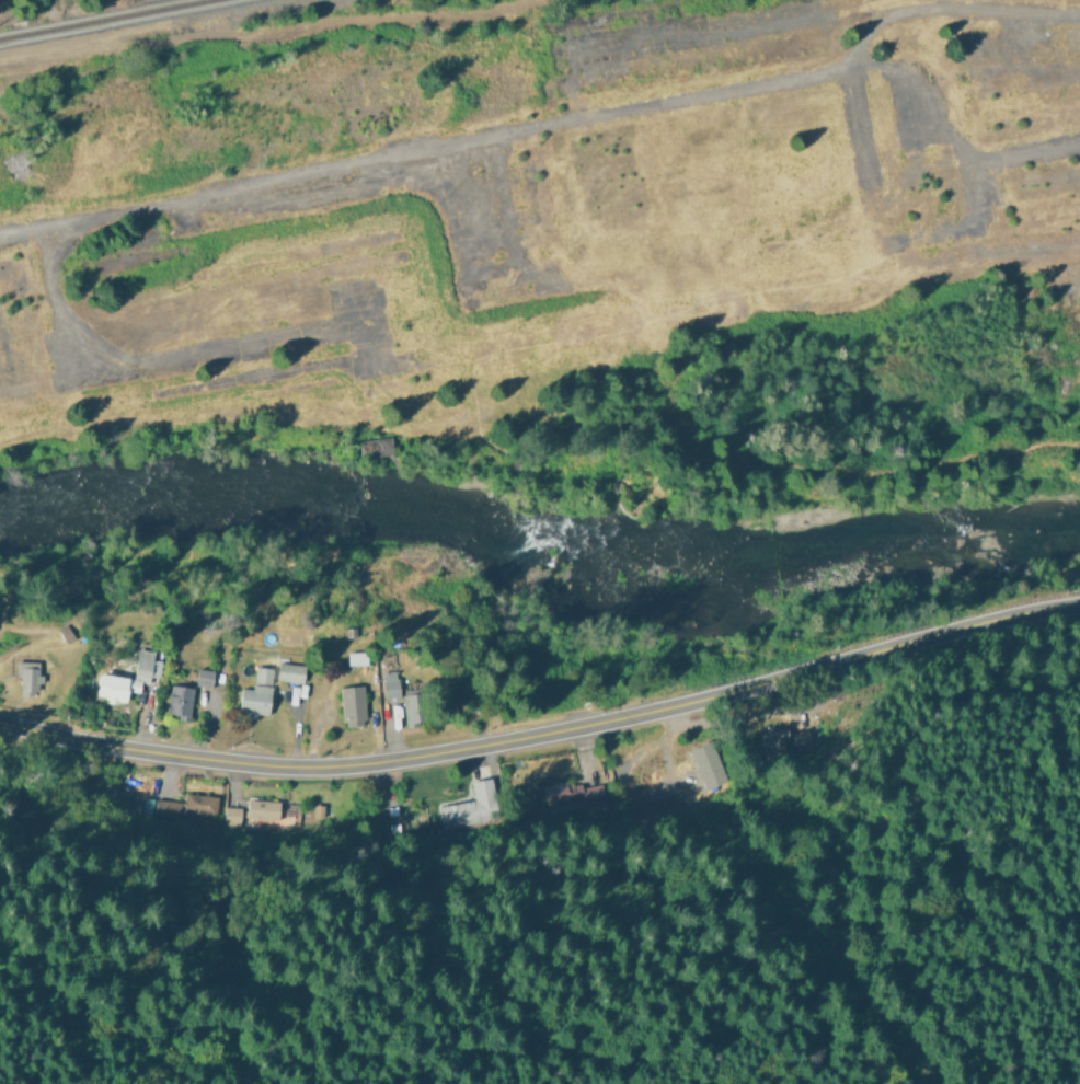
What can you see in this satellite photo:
railway: (103, 21)
road: (556, 129)
river: (539, 539)
building: (354, 657)
building: (142, 662)
building: (26, 678)
building: (388, 684)
building: (266, 685)
building: (112, 688)
building: (175, 700)
building: (349, 705)
road: (544, 730)
building: (568, 795)

